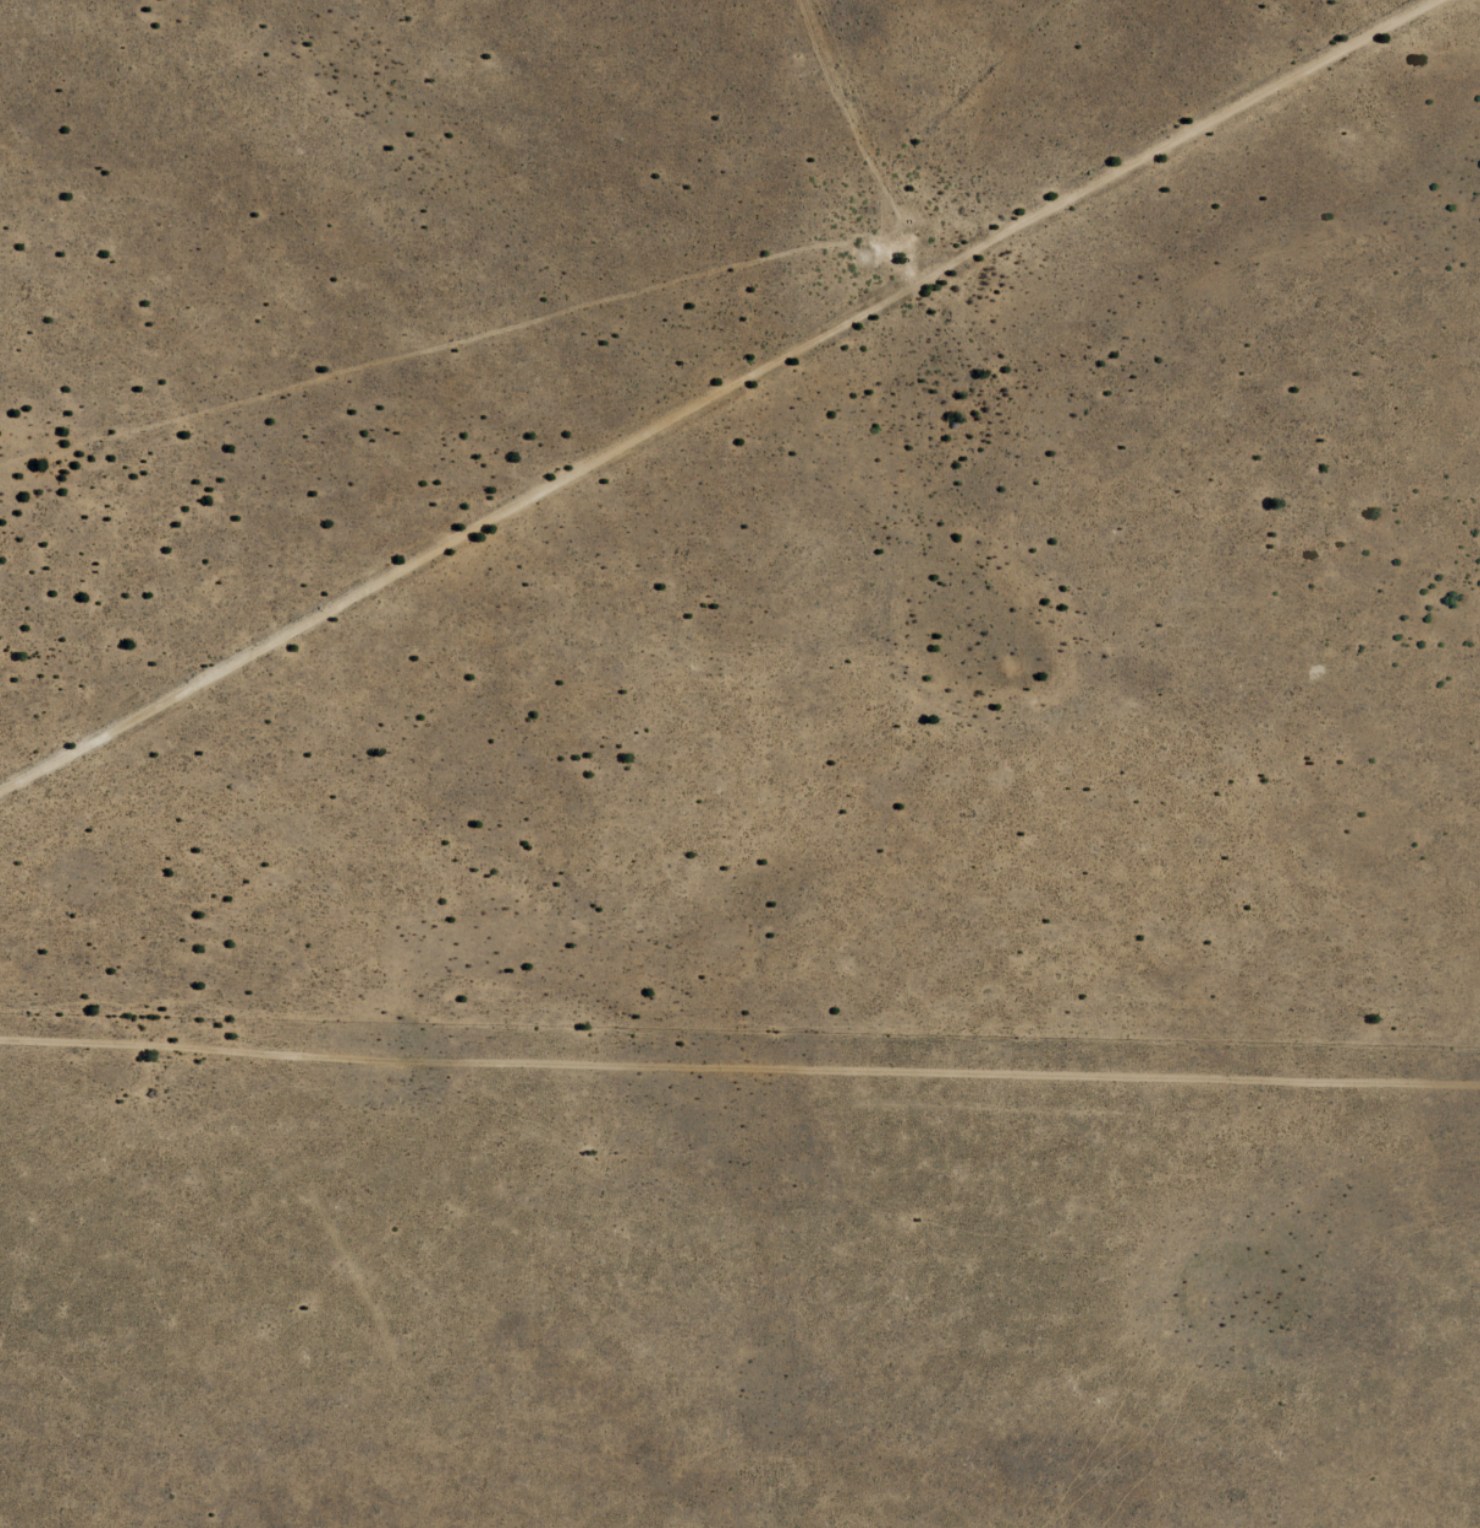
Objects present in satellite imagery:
road: (715, 386)

